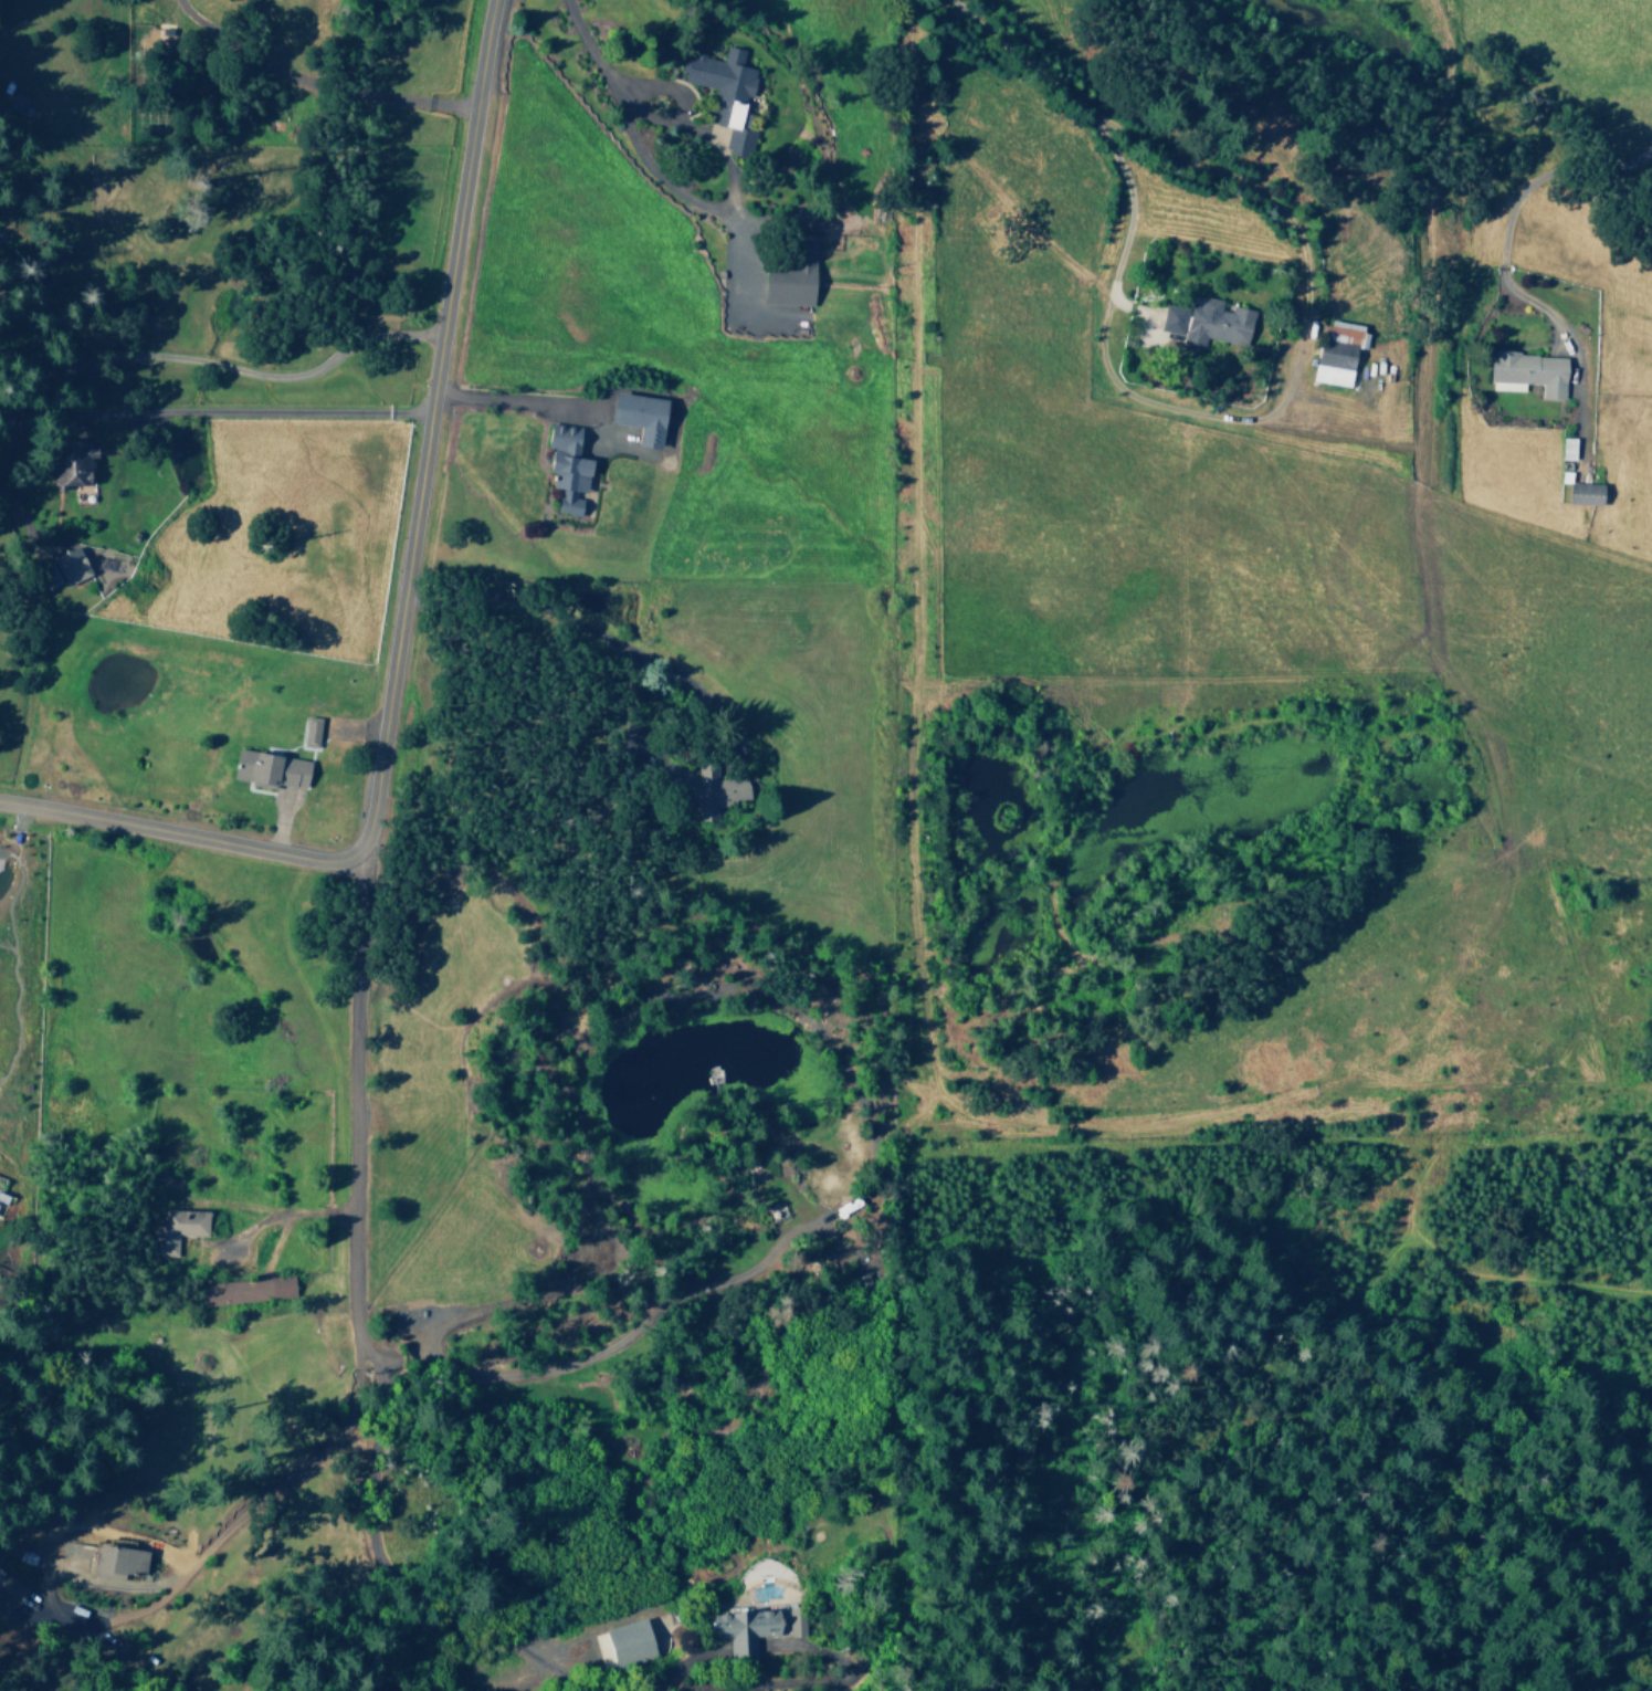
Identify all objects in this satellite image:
building: (719, 84)
building: (791, 276)
building: (1206, 322)
building: (1335, 351)
building: (1527, 372)
building: (639, 416)
building: (72, 463)
building: (566, 468)
building: (1583, 493)
building: (69, 565)
road: (403, 609)
building: (309, 732)
building: (269, 769)
building: (712, 790)
road: (351, 1089)
building: (175, 1229)
building: (118, 1559)
road: (414, 1584)
building: (755, 1628)
building: (623, 1642)
road: (741, 1649)
road: (685, 1663)
road: (566, 1677)
road: (848, 1681)

